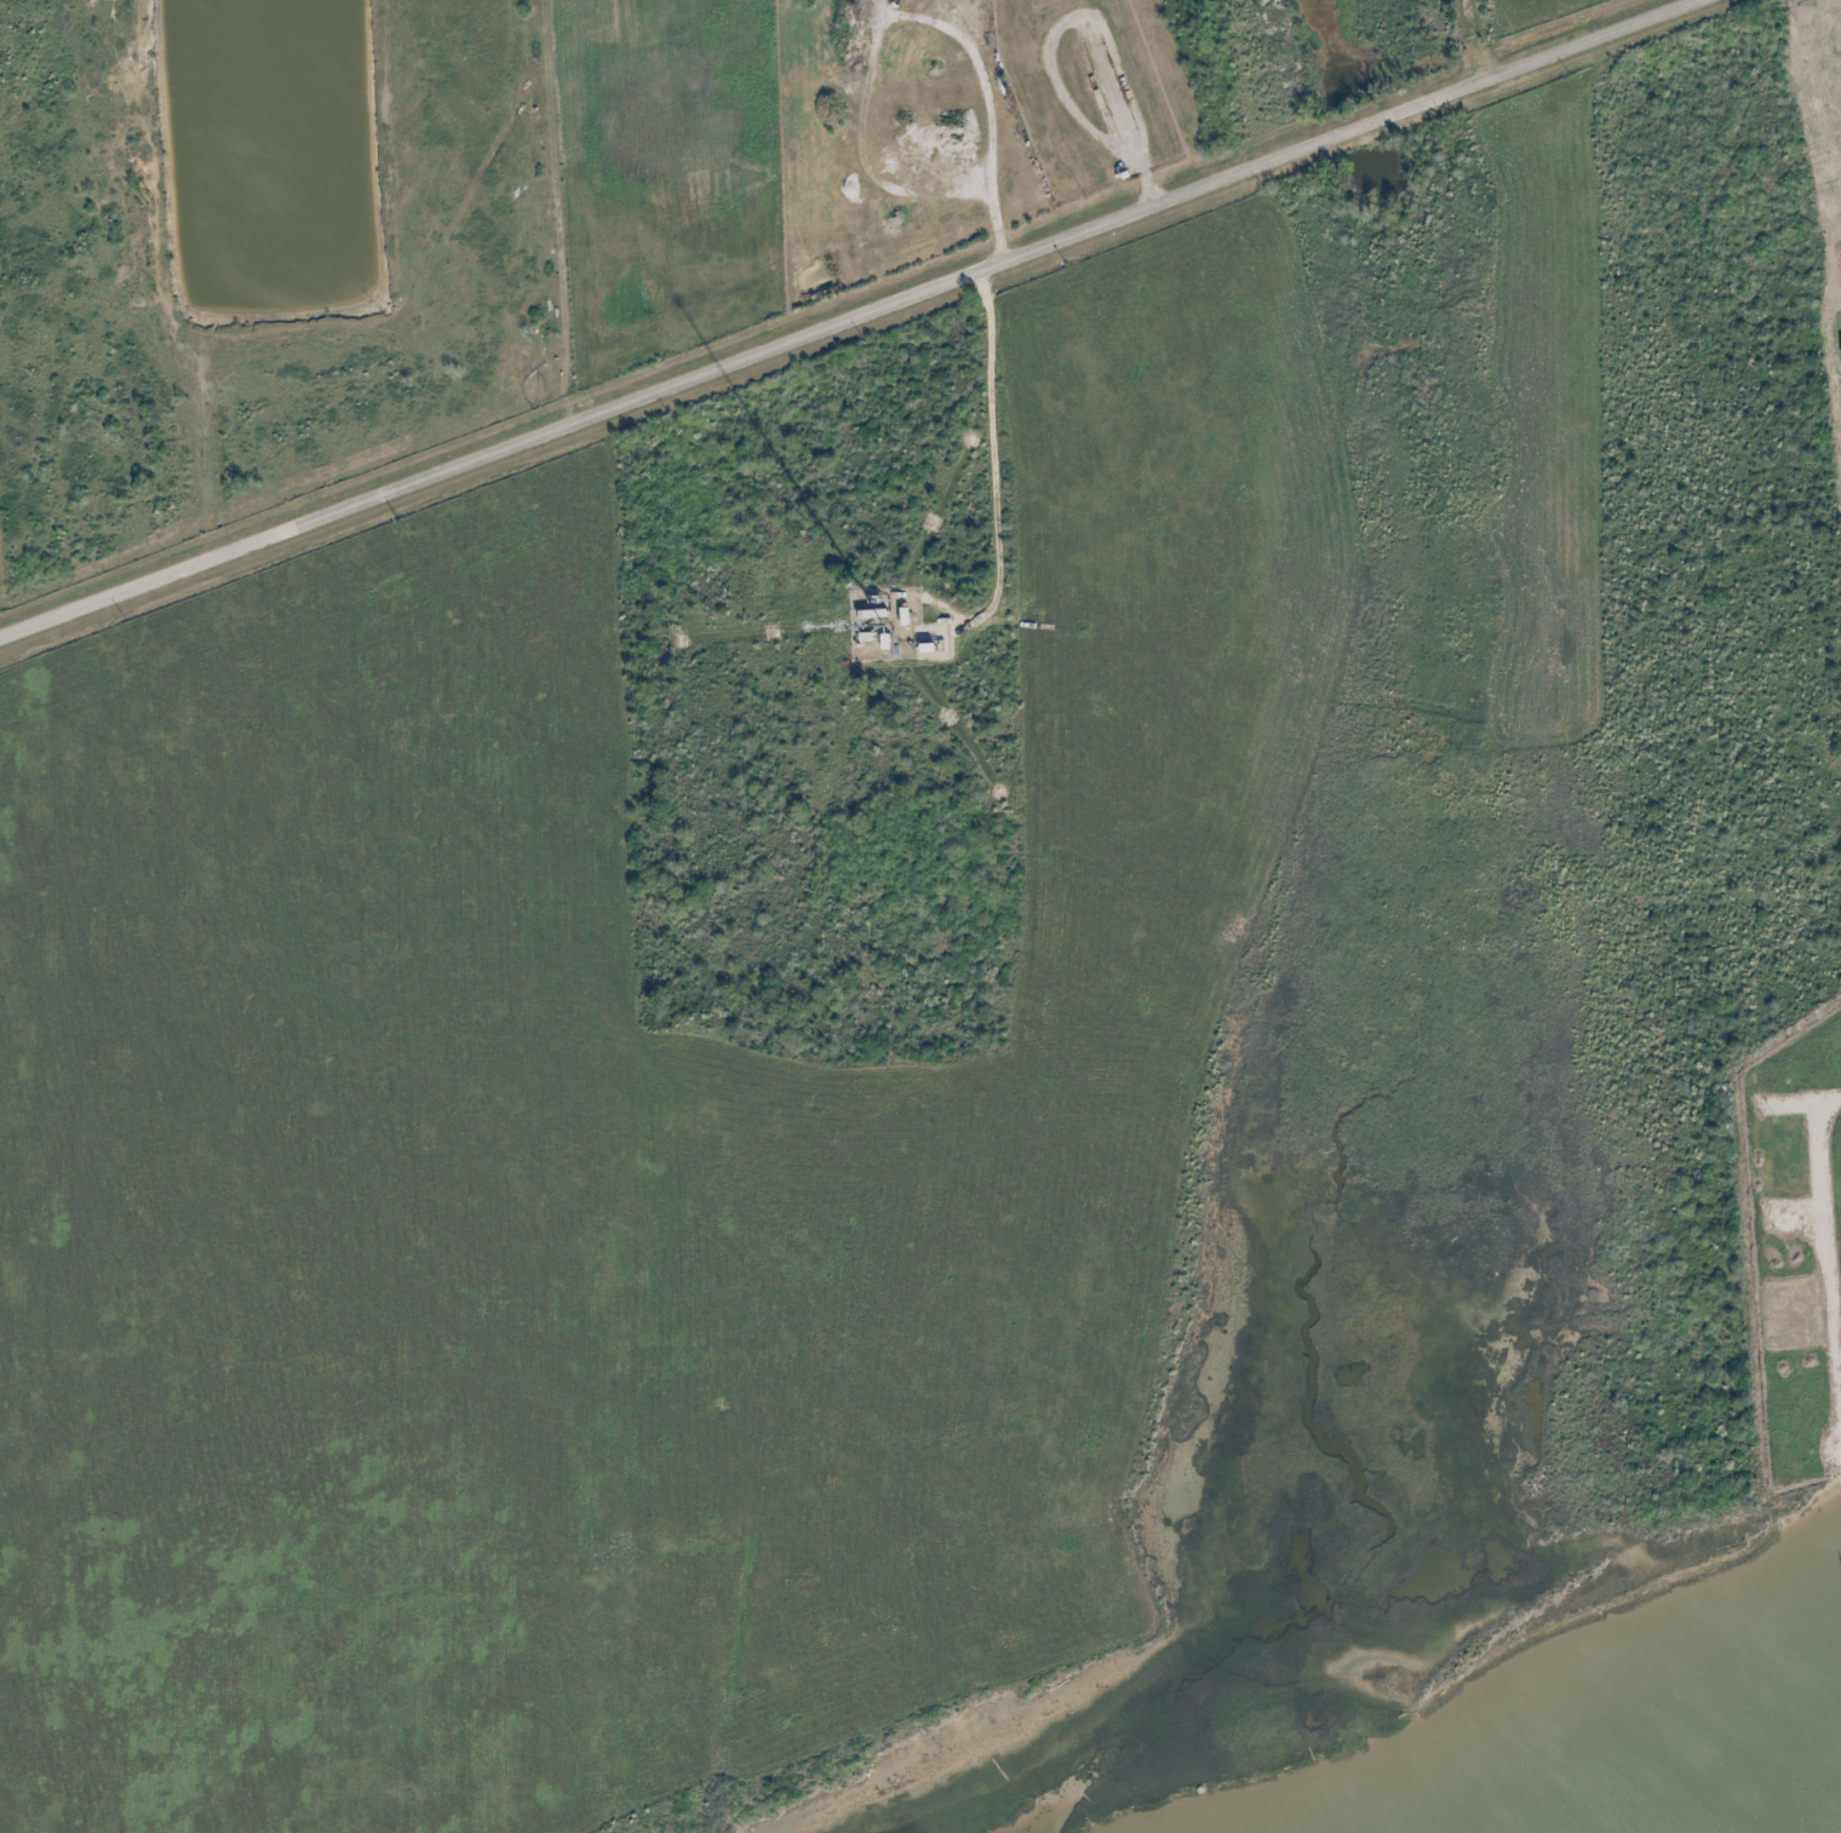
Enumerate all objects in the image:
road: (850, 318)

